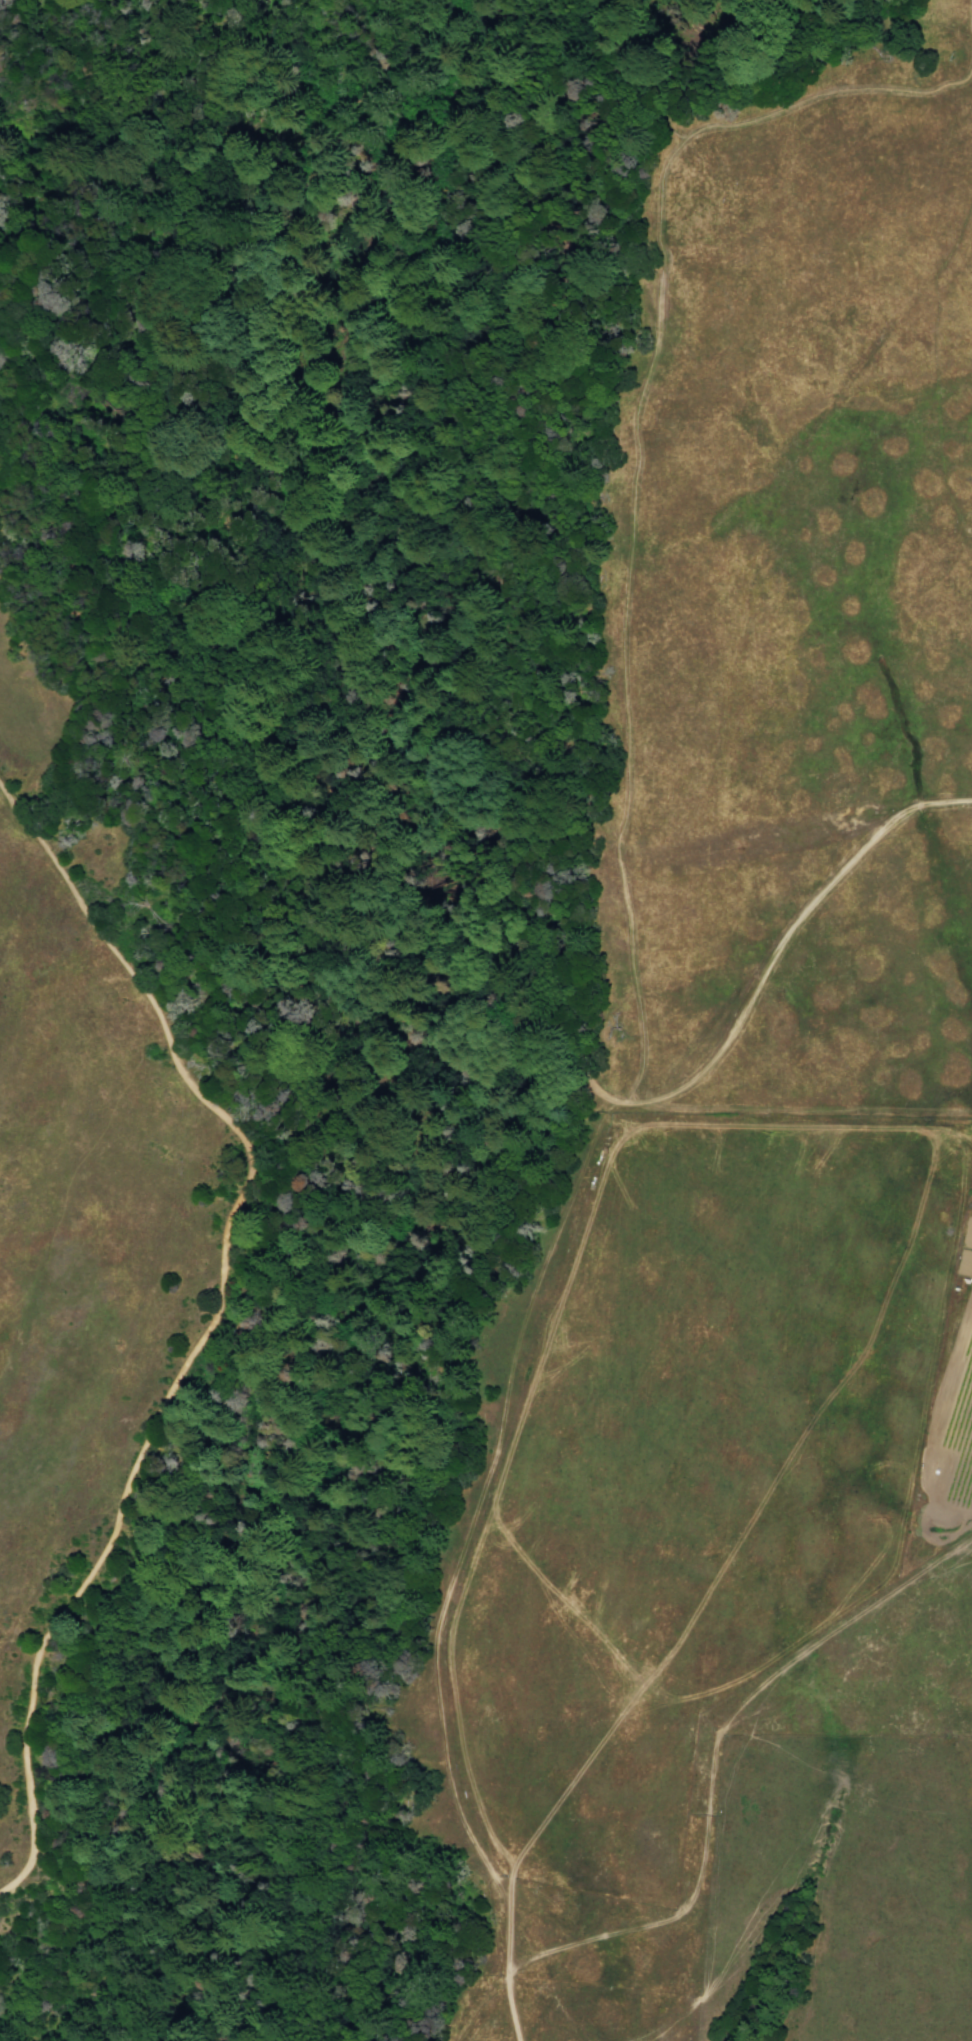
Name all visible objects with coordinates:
road: (359, 85)
road: (935, 362)
road: (636, 468)
road: (479, 556)
road: (755, 847)
road: (783, 942)
road: (610, 1105)
road: (796, 1129)
road: (534, 1284)
road: (209, 1324)
road: (496, 1502)
road: (748, 1524)
crop: (579, 1569)
road: (440, 1687)
road: (711, 1759)
road: (783, 1865)
road: (509, 1940)
road: (685, 1983)
road: (513, 2009)

